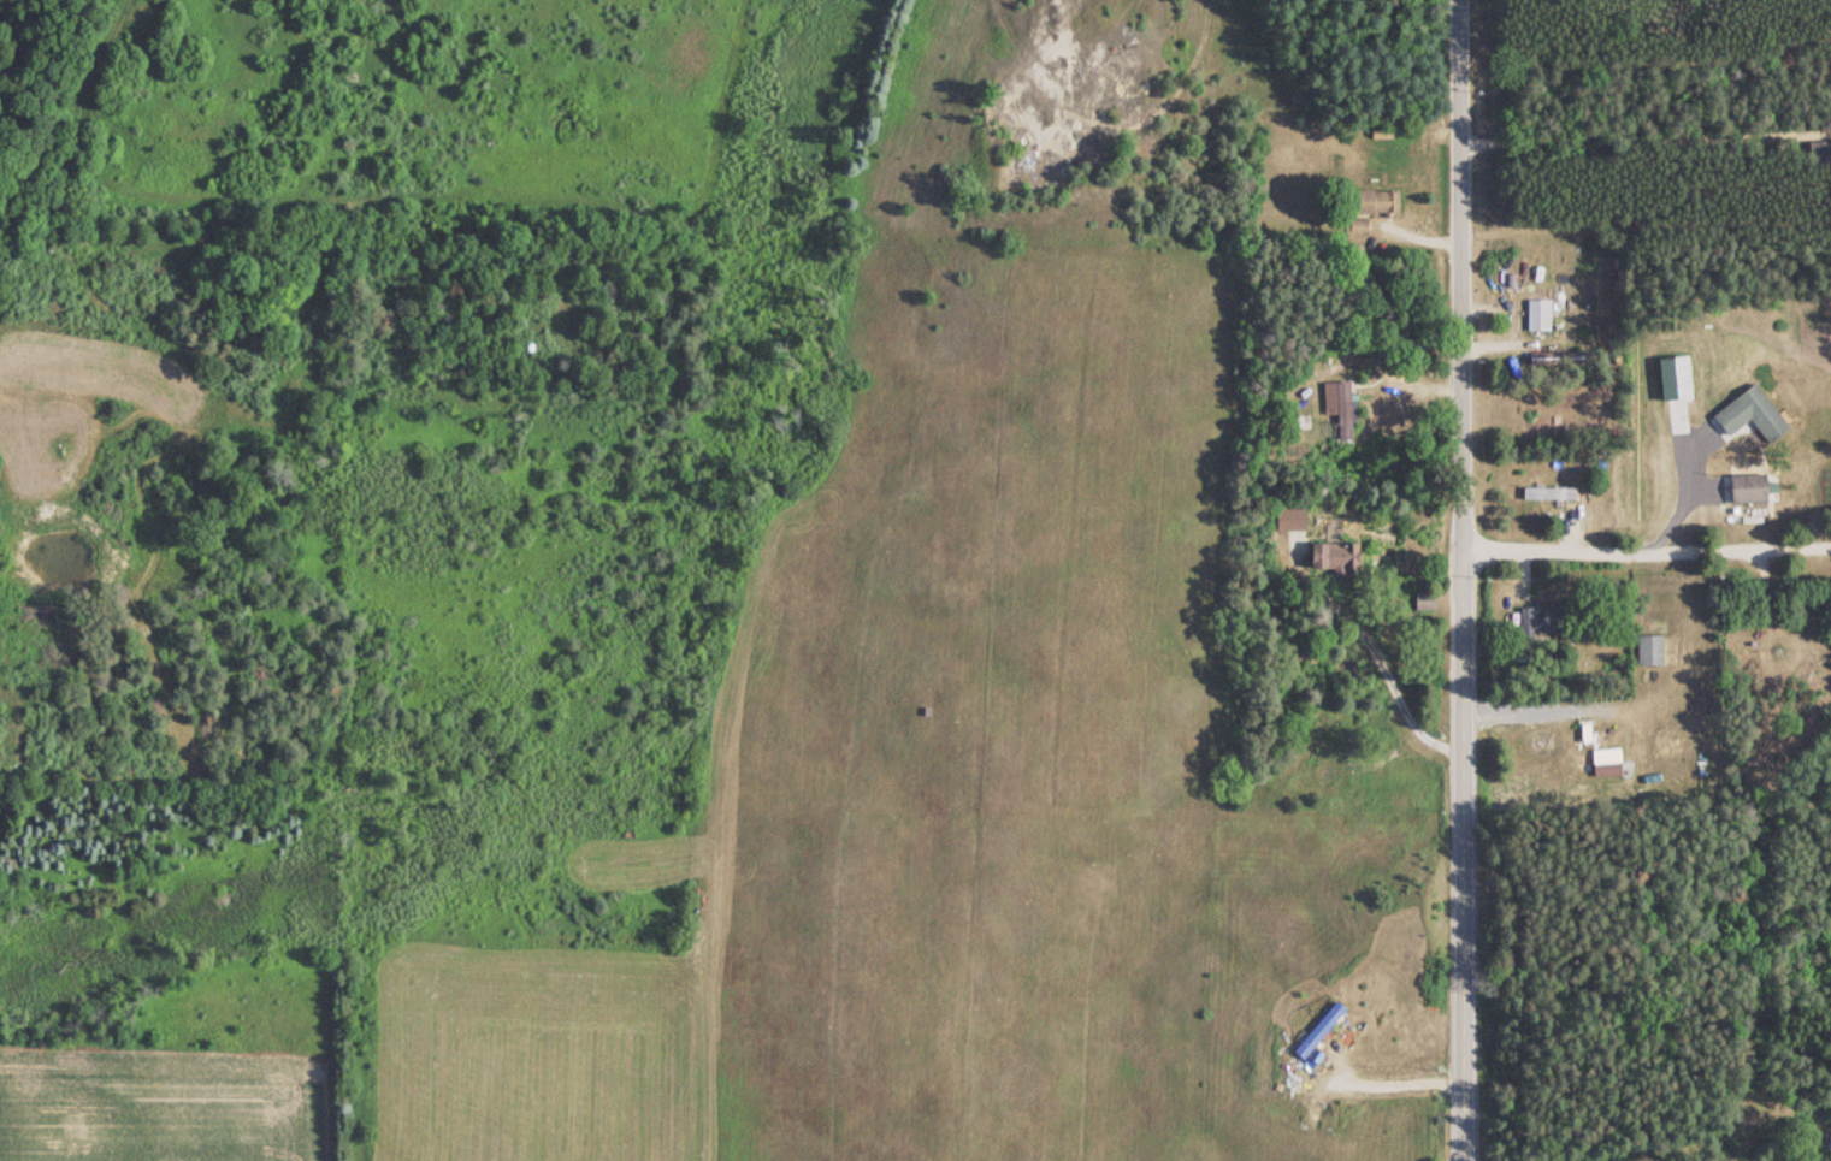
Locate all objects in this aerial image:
building: (1372, 201)
building: (1535, 315)
building: (1747, 415)
road: (1329, 462)
building: (1743, 488)
building: (1547, 492)
road: (1641, 514)
road: (1363, 537)
building: (1328, 553)
road: (1452, 580)
building: (1540, 621)
building: (1646, 648)
building: (1605, 760)
building: (1315, 1030)
road: (1583, 1056)

